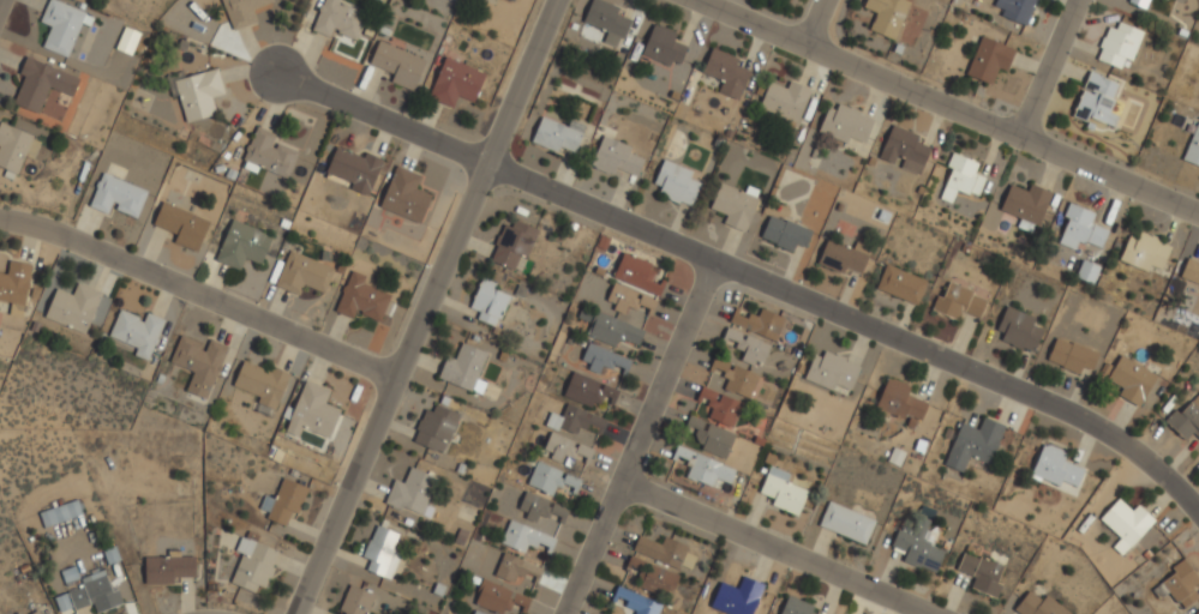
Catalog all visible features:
building: (514, 0)
road: (0, 1)
building: (1139, 2)
building: (241, 11)
building: (886, 16)
building: (338, 18)
building: (606, 20)
road: (817, 23)
building: (60, 25)
building: (127, 41)
building: (1119, 44)
building: (663, 46)
building: (989, 59)
building: (397, 64)
road: (857, 67)
road: (1047, 67)
building: (726, 72)
building: (455, 82)
building: (40, 83)
building: (197, 94)
building: (785, 100)
building: (1097, 100)
road: (385, 120)
building: (845, 124)
building: (557, 134)
building: (16, 148)
building: (1193, 148)
building: (905, 149)
building: (268, 153)
building: (616, 157)
building: (354, 169)
road: (1108, 174)
building: (961, 177)
building: (676, 182)
building: (118, 195)
building: (404, 195)
building: (1026, 205)
building: (181, 225)
building: (1081, 228)
building: (785, 233)
building: (512, 243)
building: (242, 245)
building: (1144, 252)
building: (844, 257)
building: (1087, 271)
building: (1191, 271)
building: (302, 273)
building: (637, 273)
building: (901, 284)
building: (14, 285)
road: (198, 290)
building: (361, 299)
building: (628, 299)
building: (488, 302)
building: (959, 302)
road: (424, 306)
building: (72, 307)
road: (855, 319)
building: (759, 323)
building: (609, 327)
building: (1018, 329)
building: (137, 331)
building: (747, 345)
building: (1071, 356)
building: (604, 359)
building: (198, 362)
building: (464, 368)
building: (831, 371)
building: (737, 379)
building: (1131, 380)
building: (262, 383)
building: (588, 390)
building: (900, 402)
building: (720, 405)
building: (312, 411)
building: (1186, 420)
building: (434, 428)
building: (570, 434)
road: (640, 437)
building: (711, 437)
building: (973, 444)
building: (703, 466)
building: (1055, 468)
building: (551, 477)
building: (185, 486)
building: (783, 490)
building: (412, 492)
building: (283, 501)
building: (534, 506)
building: (558, 510)
building: (60, 513)
building: (846, 522)
building: (1126, 524)
building: (524, 537)
building: (917, 546)
road: (774, 548)
building: (382, 550)
building: (666, 552)
building: (252, 565)
building: (167, 567)
building: (516, 568)
building: (981, 573)
building: (1181, 584)
building: (95, 592)
building: (493, 596)
building: (737, 597)
building: (521, 600)
building: (355, 601)
building: (637, 601)
building: (1038, 606)
building: (796, 607)
building: (36, 612)
building: (476, 612)
building: (19, 613)

